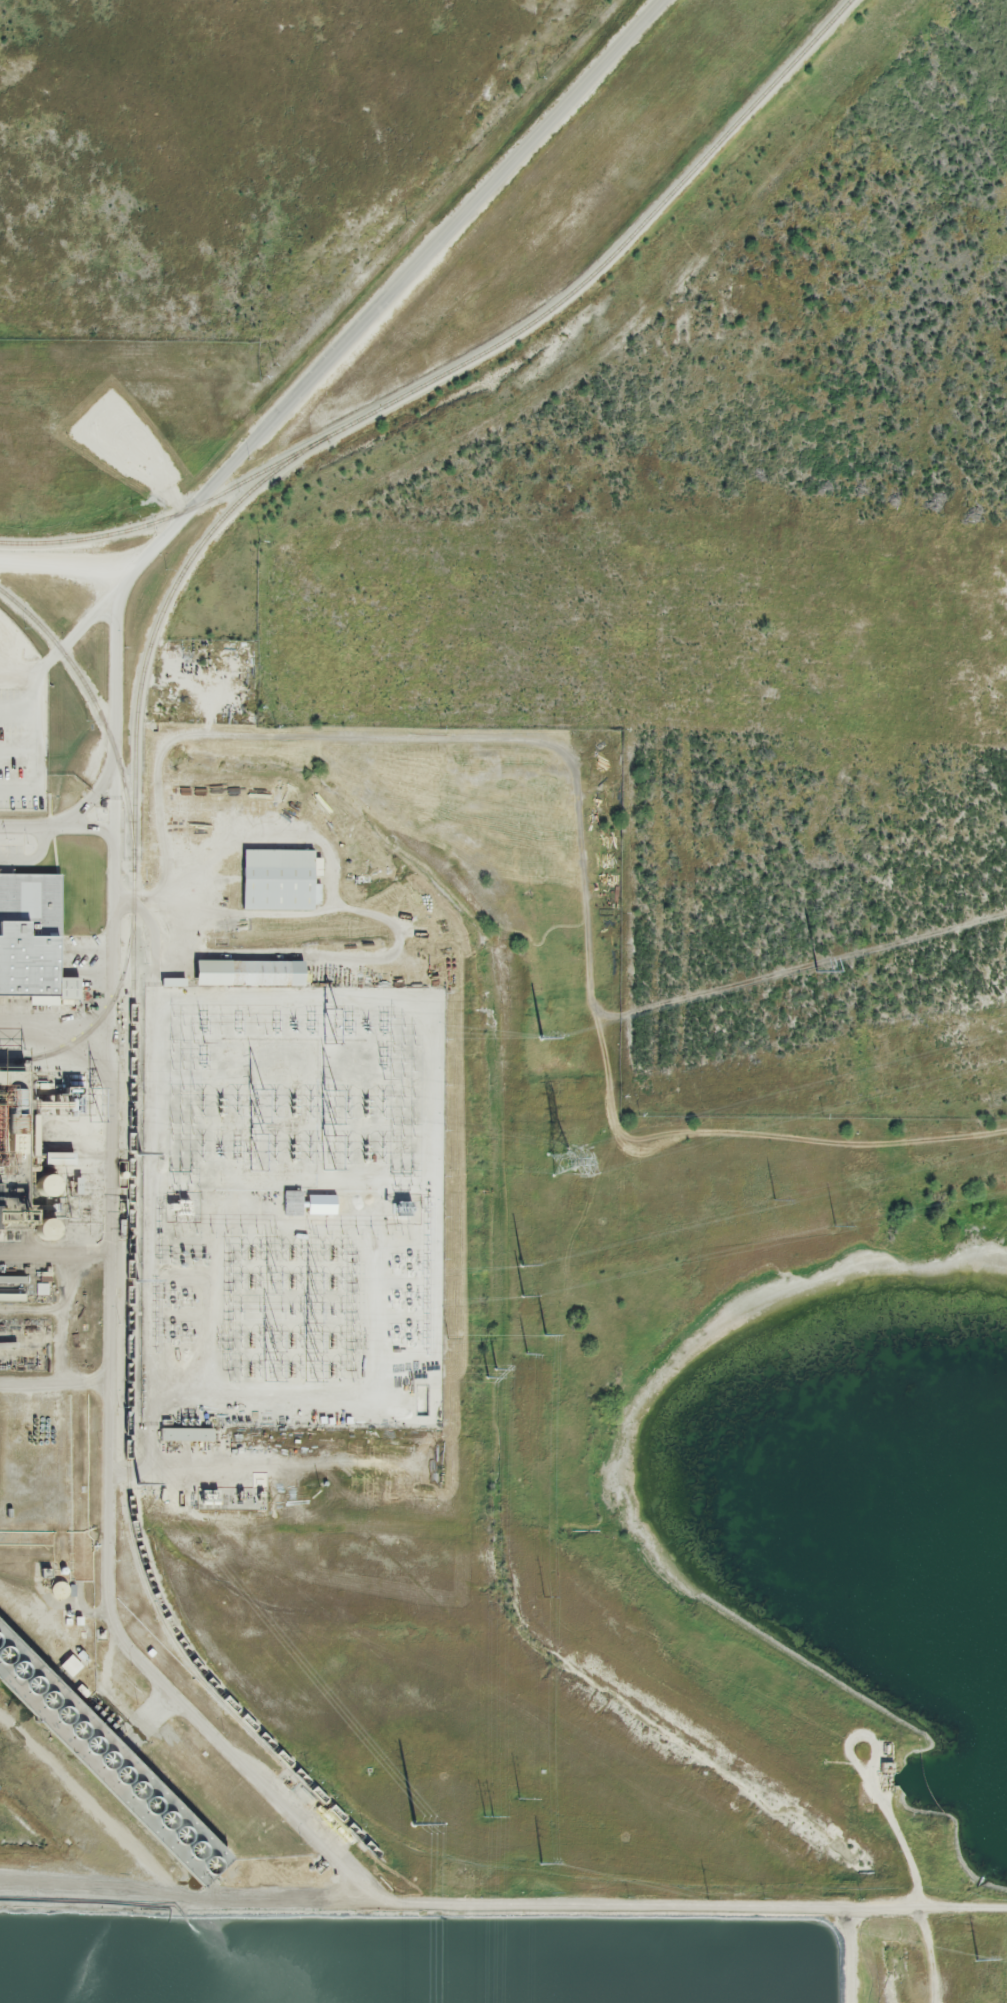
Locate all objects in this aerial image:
railway: (476, 359)
road: (65, 647)
railway: (96, 710)
road: (71, 818)
road: (91, 829)
building: (275, 881)
road: (113, 894)
building: (27, 934)
power tower: (812, 964)
building: (247, 975)
road: (56, 1024)
railway: (95, 1025)
power tower: (538, 1040)
power tower: (138, 1154)
power tower: (561, 1165)
railway: (129, 1174)
building: (8, 1195)
power tower: (776, 1198)
building: (292, 1205)
power substation: (292, 1208)
power tower: (835, 1226)
road: (55, 1256)
power tower: (522, 1265)
power tower: (137, 1280)
power tower: (523, 1295)
power tower: (546, 1335)
power plant: (435, 1351)
power tower: (529, 1353)
power tower: (488, 1374)
road: (55, 1385)
building: (189, 1436)
power tower: (140, 1486)
power tower: (543, 1596)
building: (67, 1666)
building: (105, 1764)
power tower: (520, 1797)
power tower: (487, 1818)
power tower: (416, 1821)
power tower: (542, 1862)
road: (65, 1896)
power tower: (709, 1898)
road: (185, 1902)
power tower: (978, 1960)

